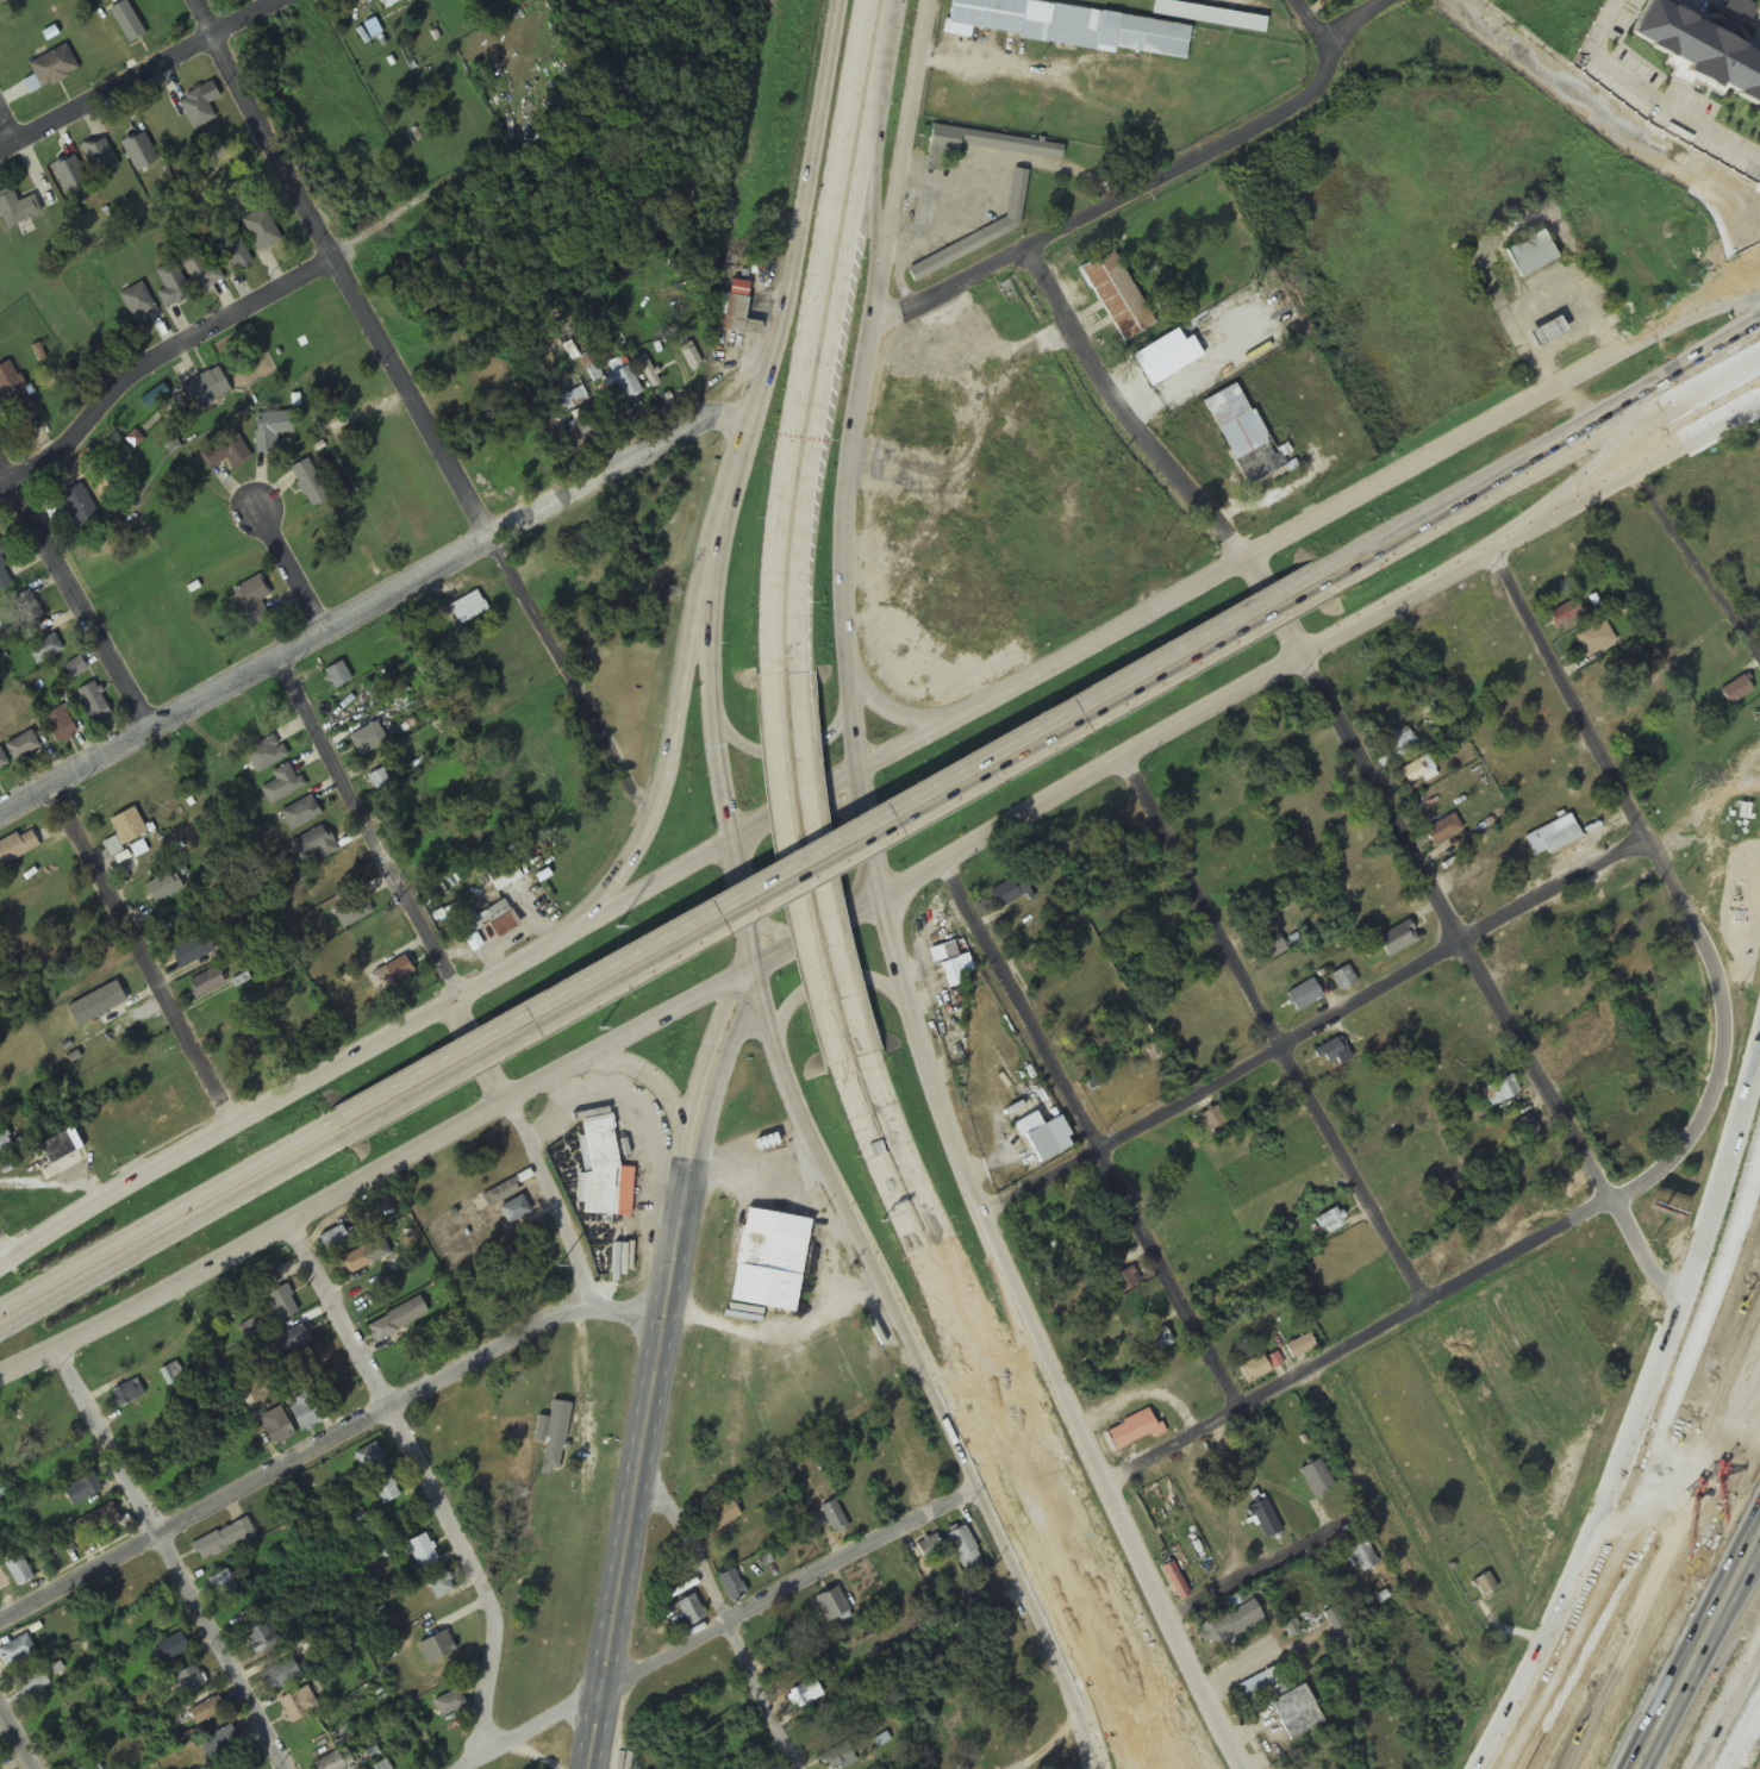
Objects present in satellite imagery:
building: (389, 1)
building: (1207, 15)
building: (127, 21)
building: (1068, 26)
road: (1316, 27)
road: (887, 36)
building: (1705, 56)
building: (51, 68)
road: (142, 75)
building: (196, 110)
road: (6, 136)
building: (998, 150)
building: (139, 151)
road: (817, 156)
building: (100, 157)
road: (903, 158)
building: (70, 174)
road: (1154, 185)
road: (879, 187)
building: (17, 207)
building: (1006, 226)
building: (262, 229)
building: (993, 236)
building: (233, 251)
building: (1529, 254)
power tower: (730, 261)
building: (201, 268)
building: (173, 285)
road: (1718, 294)
building: (1116, 296)
building: (138, 301)
road: (249, 305)
road: (1718, 307)
building: (731, 314)
building: (749, 321)
building: (1544, 331)
building: (1166, 357)
building: (648, 373)
building: (625, 382)
building: (208, 388)
building: (12, 389)
road: (414, 414)
building: (588, 419)
building: (273, 429)
building: (1243, 437)
road: (1541, 445)
building: (227, 451)
road: (1609, 456)
road: (737, 465)
road: (1639, 467)
road: (1544, 468)
building: (311, 481)
building: (79, 506)
road: (1696, 562)
road: (291, 571)
building: (4, 573)
road: (73, 596)
building: (255, 600)
road: (373, 604)
road: (845, 604)
building: (468, 608)
building: (27, 610)
building: (1565, 614)
building: (951, 617)
building: (1593, 639)
building: (45, 648)
building: (76, 667)
building: (339, 675)
building: (1737, 690)
building: (94, 701)
road: (894, 718)
building: (61, 724)
building: (369, 739)
building: (1400, 744)
building: (24, 745)
road: (789, 750)
building: (263, 755)
building: (4, 760)
road: (1368, 771)
building: (1417, 771)
building: (281, 785)
road: (836, 787)
road: (661, 794)
road: (1629, 799)
building: (299, 814)
building: (126, 827)
building: (1441, 831)
building: (1560, 839)
road: (828, 844)
building: (312, 845)
building: (15, 848)
road: (837, 861)
building: (506, 874)
building: (161, 888)
building: (1009, 893)
road: (744, 894)
building: (1748, 900)
building: (350, 909)
building: (503, 919)
building: (469, 925)
power tower: (617, 930)
road: (774, 932)
building: (1396, 940)
building: (1268, 950)
building: (191, 951)
road: (143, 952)
building: (951, 965)
road: (767, 967)
building: (397, 970)
building: (1343, 980)
road: (436, 981)
road: (825, 983)
building: (205, 984)
road: (748, 990)
building: (1303, 998)
building: (95, 1005)
road: (1317, 1025)
power tower: (600, 1032)
road: (1271, 1032)
building: (1334, 1055)
building: (144, 1062)
road: (930, 1075)
road: (653, 1076)
road: (700, 1081)
road: (717, 1088)
building: (1499, 1092)
building: (160, 1109)
building: (1527, 1130)
road: (1092, 1131)
building: (1043, 1138)
building: (5, 1144)
building: (601, 1174)
building: (500, 1195)
building: (1678, 1202)
building: (513, 1211)
road: (166, 1212)
building: (1329, 1223)
road: (170, 1232)
building: (335, 1239)
road: (1, 1255)
building: (354, 1262)
road: (1723, 1264)
building: (788, 1265)
power tower: (558, 1268)
building: (1117, 1282)
road: (1440, 1298)
building: (279, 1307)
building: (395, 1320)
building: (289, 1342)
building: (1155, 1344)
building: (1299, 1348)
building: (1254, 1370)
road: (926, 1373)
building: (171, 1375)
building: (129, 1393)
road: (1641, 1409)
road: (1712, 1411)
building: (306, 1412)
building: (274, 1427)
building: (1130, 1432)
road: (1084, 1433)
road: (325, 1437)
building: (555, 1437)
building: (369, 1458)
road: (641, 1470)
building: (1316, 1480)
road: (1631, 1480)
road: (424, 1483)
building: (81, 1490)
building: (385, 1490)
power tower: (520, 1495)
building: (722, 1517)
building: (832, 1518)
building: (1263, 1521)
building: (93, 1525)
building: (223, 1540)
building: (52, 1546)
building: (929, 1549)
building: (734, 1550)
building: (965, 1551)
building: (420, 1552)
building: (1361, 1555)
road: (168, 1556)
road: (1267, 1563)
road: (1653, 1565)
building: (18, 1571)
building: (1174, 1582)
building: (223, 1584)
building: (437, 1584)
building: (4, 1586)
building: (1484, 1586)
building: (732, 1587)
road: (1667, 1593)
building: (831, 1605)
building: (688, 1611)
road: (724, 1611)
building: (1230, 1625)
road: (725, 1629)
building: (258, 1639)
building: (170, 1649)
building: (435, 1649)
building: (15, 1652)
building: (1004, 1657)
building: (281, 1675)
road: (1071, 1679)
building: (187, 1681)
building: (29, 1684)
building: (1260, 1687)
road: (1203, 1693)
building: (448, 1705)
building: (297, 1706)
building: (205, 1711)
building: (1294, 1713)
road: (1742, 1737)
road: (15, 1739)
building: (838, 1759)
building: (335, 1761)
road: (1031, 1764)

